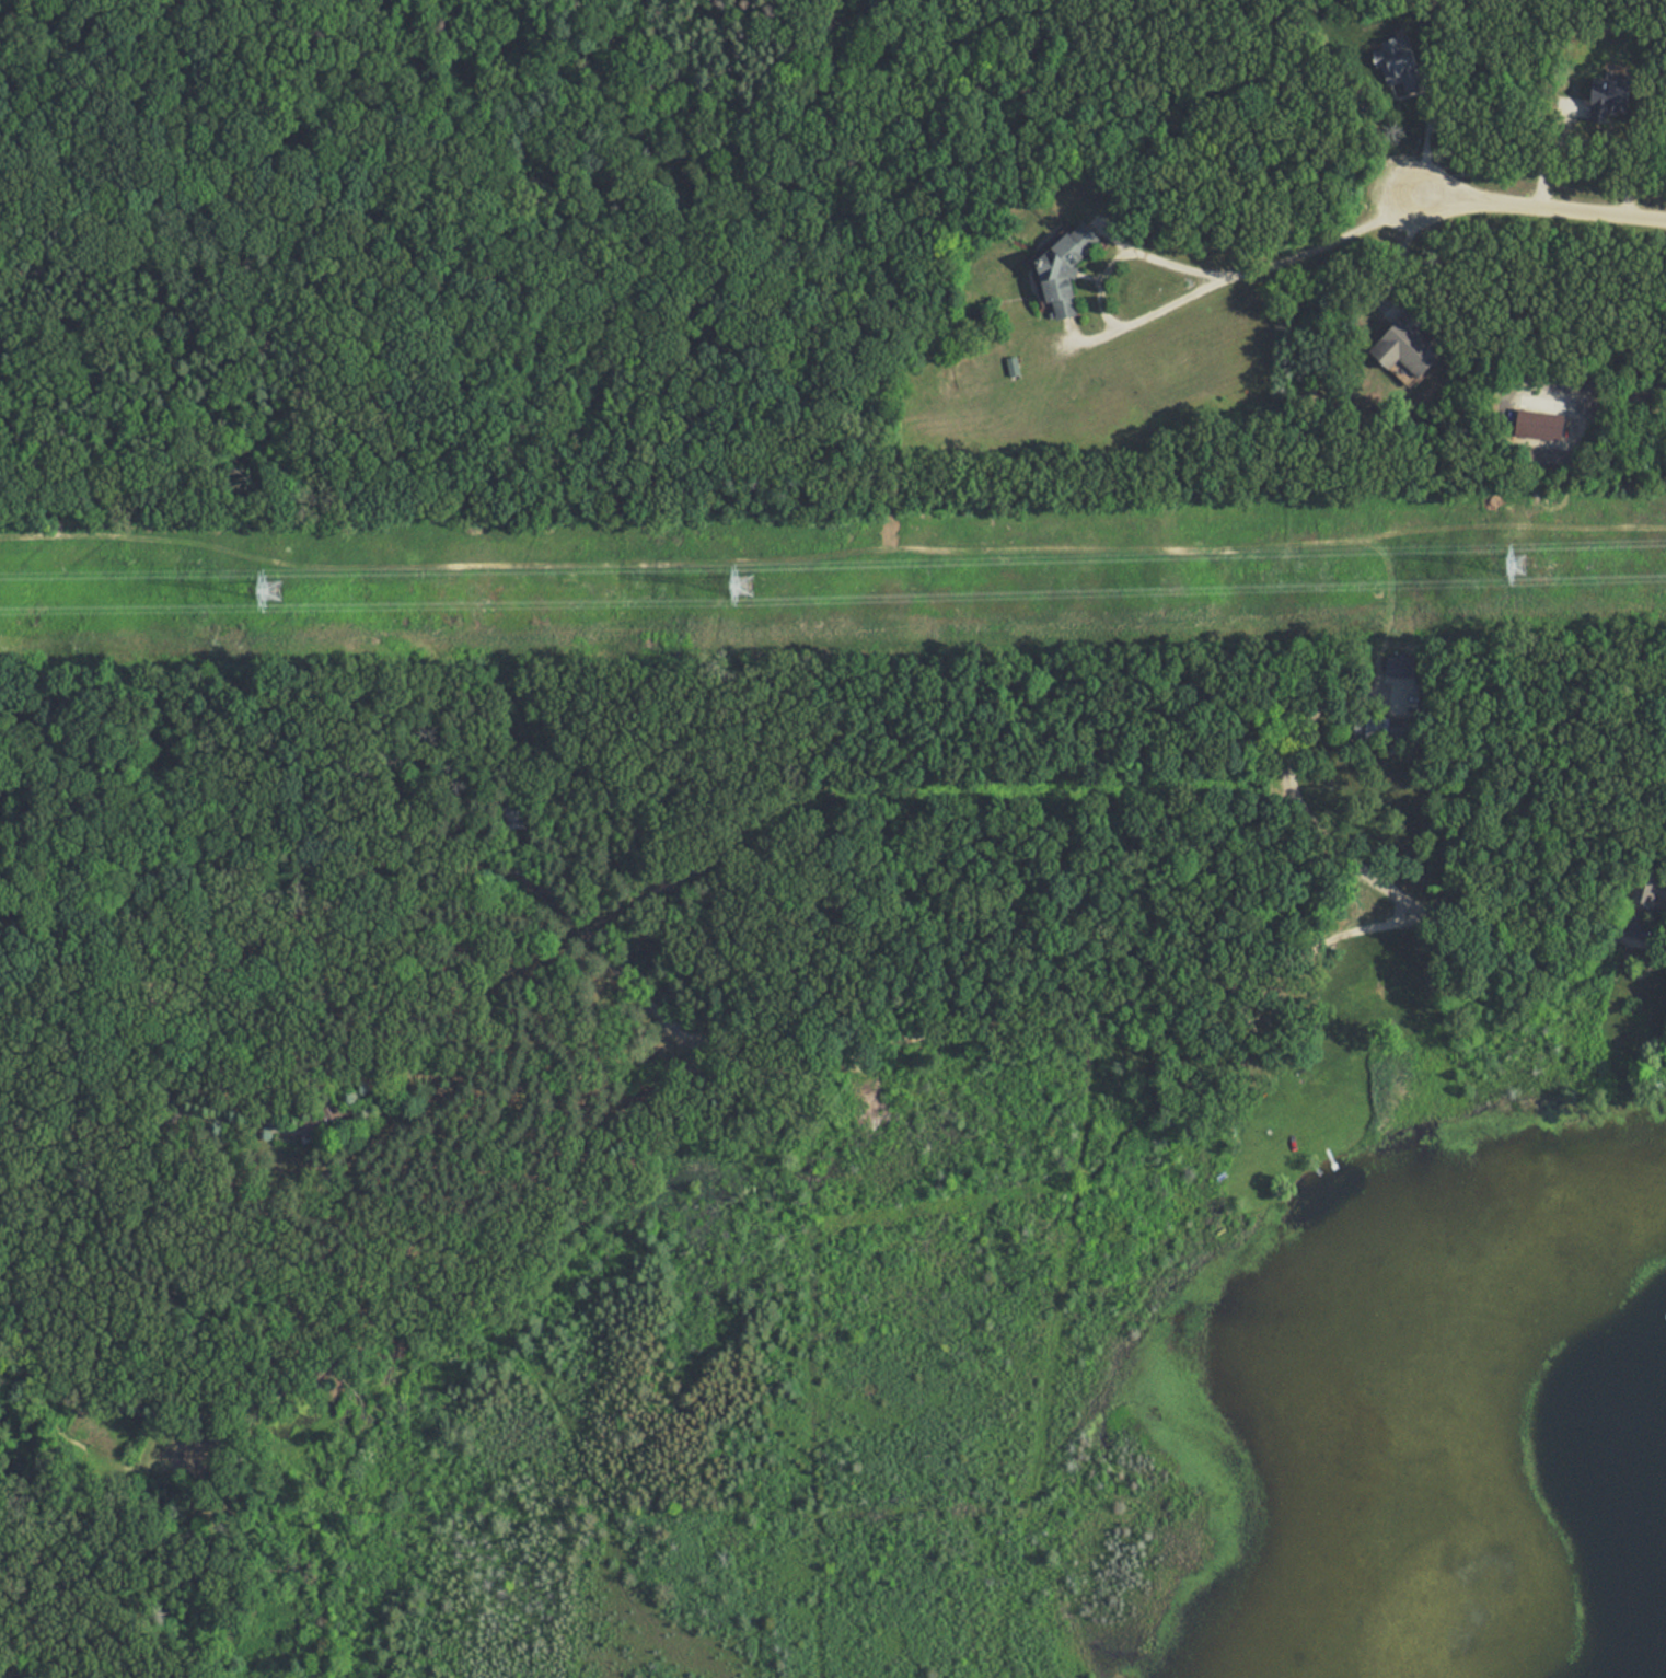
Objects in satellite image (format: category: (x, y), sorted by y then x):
building: (1398, 66)
building: (1608, 100)
road: (1424, 132)
road: (1540, 142)
road: (1537, 210)
road: (1402, 239)
road: (1113, 241)
building: (1062, 268)
road: (1179, 297)
road: (1382, 300)
road: (1088, 336)
building: (1404, 346)
power tower: (1512, 570)
power tower: (744, 582)
power tower: (274, 590)
building: (512, 815)
building: (1651, 890)
building: (323, 1125)
road: (1195, 1189)

